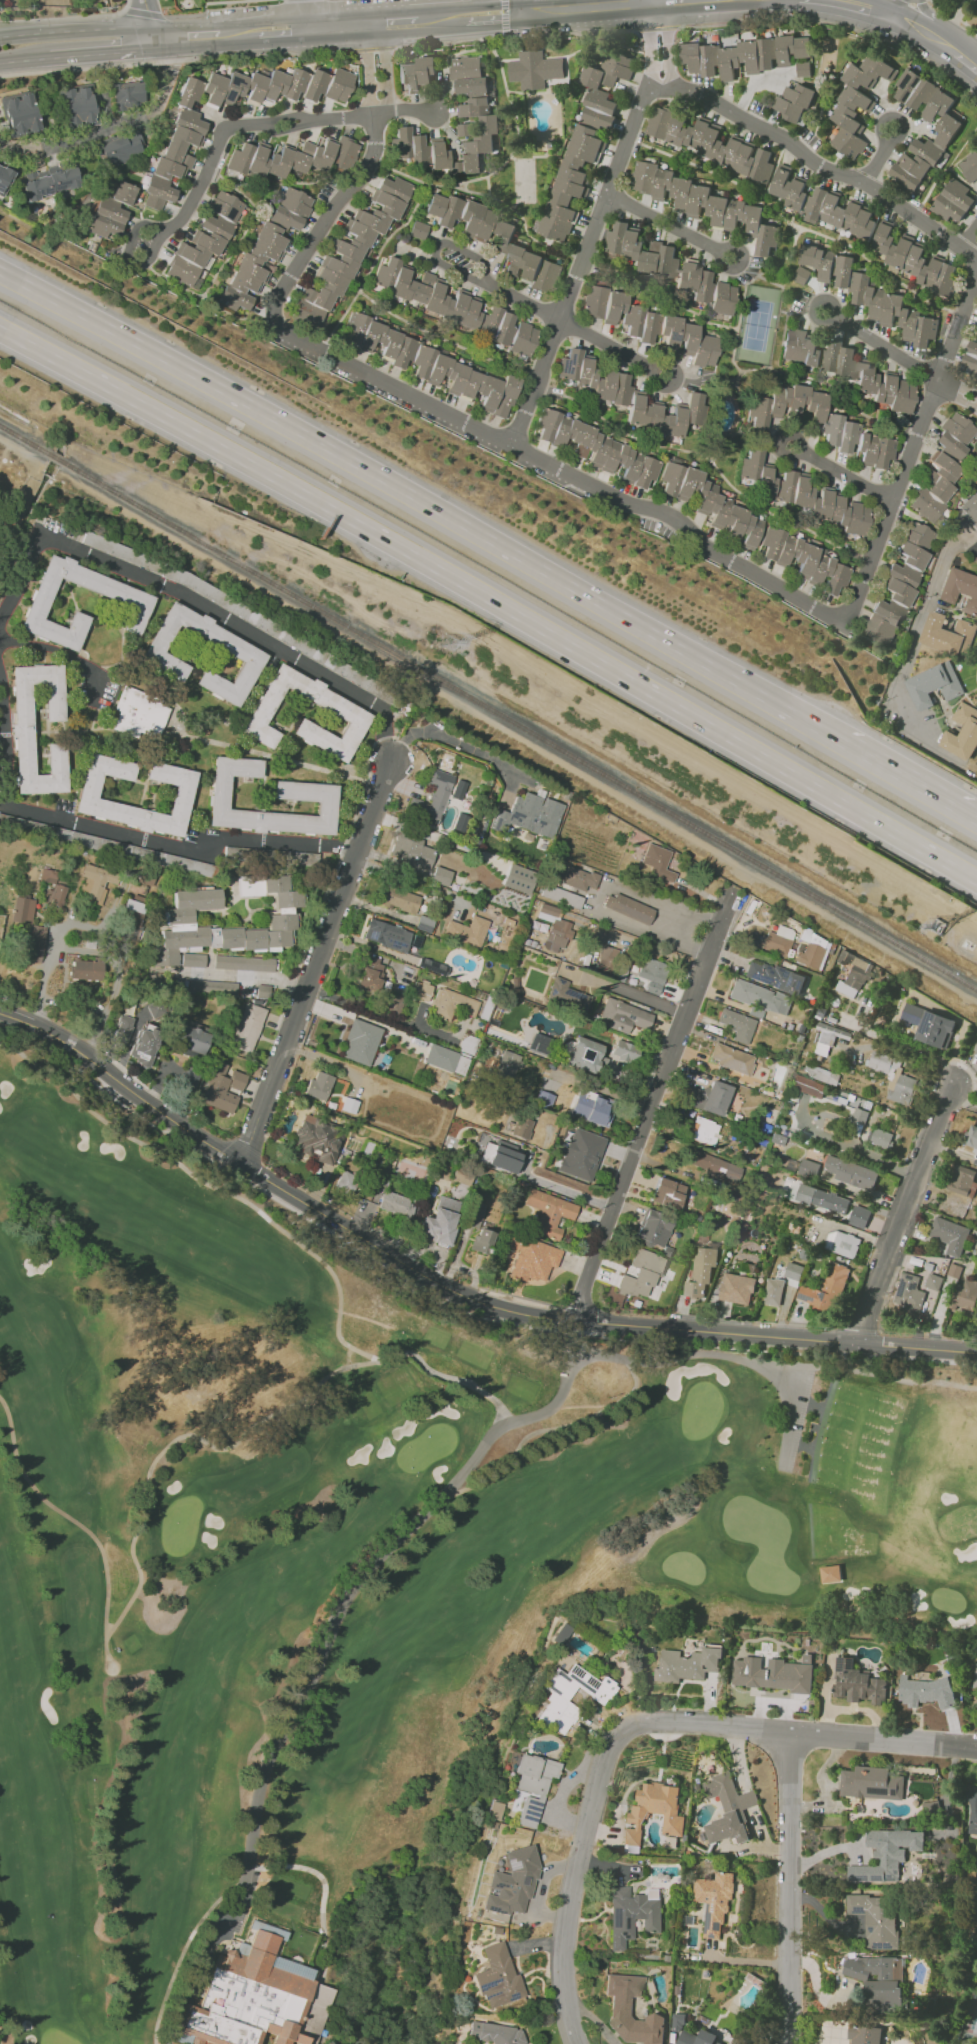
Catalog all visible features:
road: (652, 0)
road: (659, 0)
road: (235, 1)
park: (329, 1)
road: (518, 6)
road: (585, 6)
road: (872, 6)
road: (900, 7)
road: (145, 13)
road: (493, 13)
road: (192, 14)
road: (306, 14)
road: (953, 16)
road: (504, 17)
road: (63, 18)
road: (444, 18)
road: (928, 18)
road: (150, 19)
road: (396, 23)
road: (917, 24)
road: (837, 26)
road: (341, 27)
road: (656, 28)
road: (78, 30)
road: (283, 31)
road: (239, 34)
road: (513, 35)
road: (187, 37)
road: (958, 48)
road: (374, 50)
road: (102, 53)
building: (744, 55)
road: (24, 60)
road: (177, 60)
building: (534, 69)
building: (802, 69)
building: (417, 73)
building: (468, 75)
road: (756, 83)
building: (127, 94)
building: (794, 102)
building: (857, 102)
building: (75, 105)
building: (19, 114)
road: (116, 124)
road: (251, 125)
building: (948, 127)
building: (184, 133)
building: (475, 135)
building: (708, 142)
building: (583, 143)
building: (409, 148)
building: (119, 149)
building: (437, 154)
road: (882, 157)
building: (289, 158)
road: (820, 166)
building: (969, 166)
building: (4, 178)
building: (49, 181)
building: (953, 201)
building: (704, 203)
building: (821, 204)
building: (290, 208)
building: (110, 211)
road: (596, 223)
road: (669, 225)
building: (417, 229)
road: (966, 233)
building: (204, 238)
building: (495, 238)
building: (351, 249)
building: (915, 261)
building: (814, 264)
building: (252, 268)
building: (669, 268)
building: (844, 271)
road: (466, 275)
building: (454, 306)
building: (892, 311)
building: (649, 324)
road: (883, 348)
road: (614, 349)
building: (970, 358)
building: (431, 364)
building: (848, 369)
road: (971, 384)
road: (958, 393)
building: (629, 398)
building: (820, 422)
building: (954, 434)
railway: (26, 440)
building: (596, 448)
road: (24, 450)
railway: (56, 458)
building: (757, 474)
road: (842, 474)
road: (576, 479)
building: (934, 487)
building: (820, 503)
road: (426, 504)
building: (710, 504)
building: (970, 508)
building: (803, 560)
building: (898, 586)
building: (959, 589)
building: (132, 598)
road: (195, 599)
road: (491, 602)
building: (947, 634)
power tower: (447, 643)
road: (53, 649)
building: (241, 652)
road: (909, 652)
building: (934, 685)
building: (140, 714)
building: (353, 714)
railway: (518, 724)
building: (23, 731)
building: (962, 732)
road: (516, 734)
road: (451, 740)
road: (3, 743)
road: (912, 779)
building: (305, 791)
building: (88, 792)
building: (432, 798)
building: (528, 815)
road: (177, 848)
building: (411, 851)
building: (294, 857)
building: (658, 863)
building: (48, 875)
building: (440, 876)
building: (576, 876)
building: (518, 878)
road: (409, 879)
building: (95, 882)
building: (54, 896)
building: (560, 896)
road: (598, 897)
building: (397, 899)
building: (628, 908)
building: (547, 912)
building: (178, 919)
building: (29, 928)
building: (467, 930)
power tower: (938, 930)
building: (387, 935)
building: (557, 935)
building: (778, 940)
road: (650, 951)
building: (813, 952)
building: (608, 957)
building: (193, 960)
road: (316, 961)
building: (243, 963)
building: (86, 969)
road: (45, 971)
building: (853, 973)
building: (371, 974)
building: (652, 974)
road: (237, 976)
building: (774, 976)
building: (212, 986)
building: (421, 990)
building: (262, 991)
road: (629, 992)
building: (566, 998)
building: (452, 1004)
road: (380, 1013)
building: (622, 1016)
building: (737, 1025)
building: (929, 1025)
building: (123, 1027)
building: (247, 1027)
building: (828, 1037)
building: (190, 1041)
building: (360, 1042)
building: (145, 1044)
building: (467, 1044)
building: (539, 1044)
building: (975, 1049)
building: (624, 1051)
building: (585, 1055)
building: (731, 1058)
building: (446, 1059)
building: (505, 1066)
building: (820, 1073)
building: (893, 1077)
road: (580, 1084)
building: (318, 1086)
building: (807, 1086)
building: (222, 1087)
building: (710, 1097)
building: (543, 1099)
road: (962, 1100)
road: (653, 1106)
building: (590, 1108)
building: (859, 1115)
building: (520, 1126)
building: (704, 1131)
building: (879, 1137)
building: (971, 1137)
building: (316, 1139)
building: (581, 1154)
building: (501, 1156)
building: (714, 1166)
building: (808, 1168)
building: (851, 1173)
building: (346, 1181)
building: (962, 1181)
building: (667, 1193)
building: (822, 1198)
building: (395, 1203)
road: (905, 1210)
building: (546, 1211)
building: (474, 1214)
building: (858, 1216)
building: (440, 1221)
building: (653, 1228)
building: (949, 1235)
building: (482, 1240)
building: (841, 1243)
building: (529, 1257)
building: (700, 1271)
building: (641, 1272)
building: (792, 1274)
building: (933, 1281)
building: (736, 1288)
building: (825, 1289)
building: (773, 1291)
road: (449, 1292)
building: (908, 1293)
building: (965, 1296)
road: (452, 1301)
building: (829, 1573)
park: (346, 1583)
building: (560, 1633)
road: (314, 1647)
building: (686, 1664)
building: (773, 1673)
building: (975, 1677)
building: (857, 1683)
building: (924, 1691)
building: (557, 1700)
road: (883, 1738)
road: (734, 1760)
building: (871, 1783)
building: (531, 1787)
road: (592, 1800)
road: (747, 1800)
building: (931, 1808)
building: (728, 1809)
building: (494, 1811)
building: (654, 1811)
building: (972, 1811)
road: (756, 1825)
road: (774, 1852)
building: (886, 1854)
building: (512, 1882)
road: (789, 1888)
building: (714, 1901)
building: (631, 1915)
building: (873, 1918)
building: (266, 1928)
building: (498, 1977)
building: (254, 1998)
building: (631, 2011)
building: (677, 2022)
building: (496, 2033)
building: (864, 2034)
building: (697, 2037)

